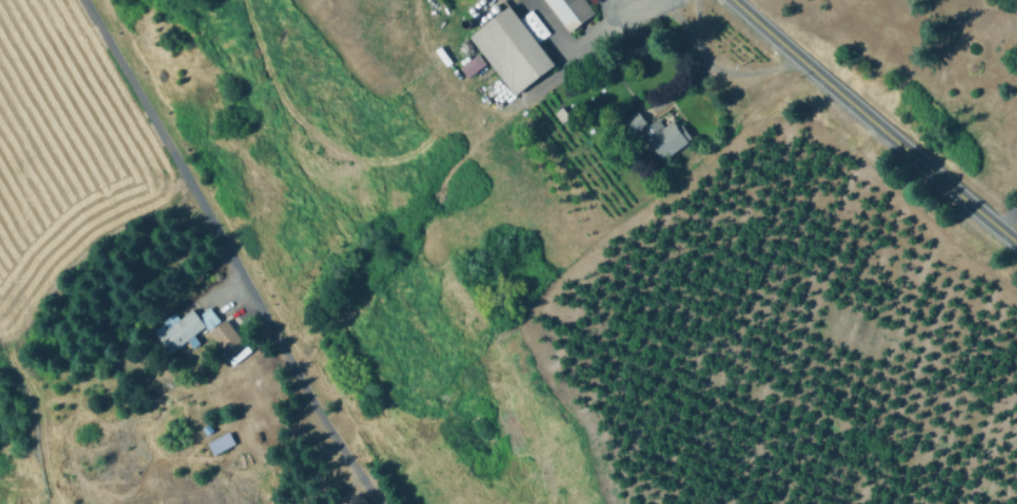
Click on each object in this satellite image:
road: (614, 0)
road: (666, 3)
road: (639, 4)
building: (570, 11)
road: (546, 26)
building: (514, 50)
road: (566, 51)
building: (472, 63)
road: (721, 63)
road: (450, 73)
building: (636, 121)
road: (875, 121)
building: (668, 136)
road: (1007, 214)
road: (228, 254)
building: (211, 317)
building: (180, 329)
building: (229, 336)
crop: (178, 379)
building: (223, 443)

